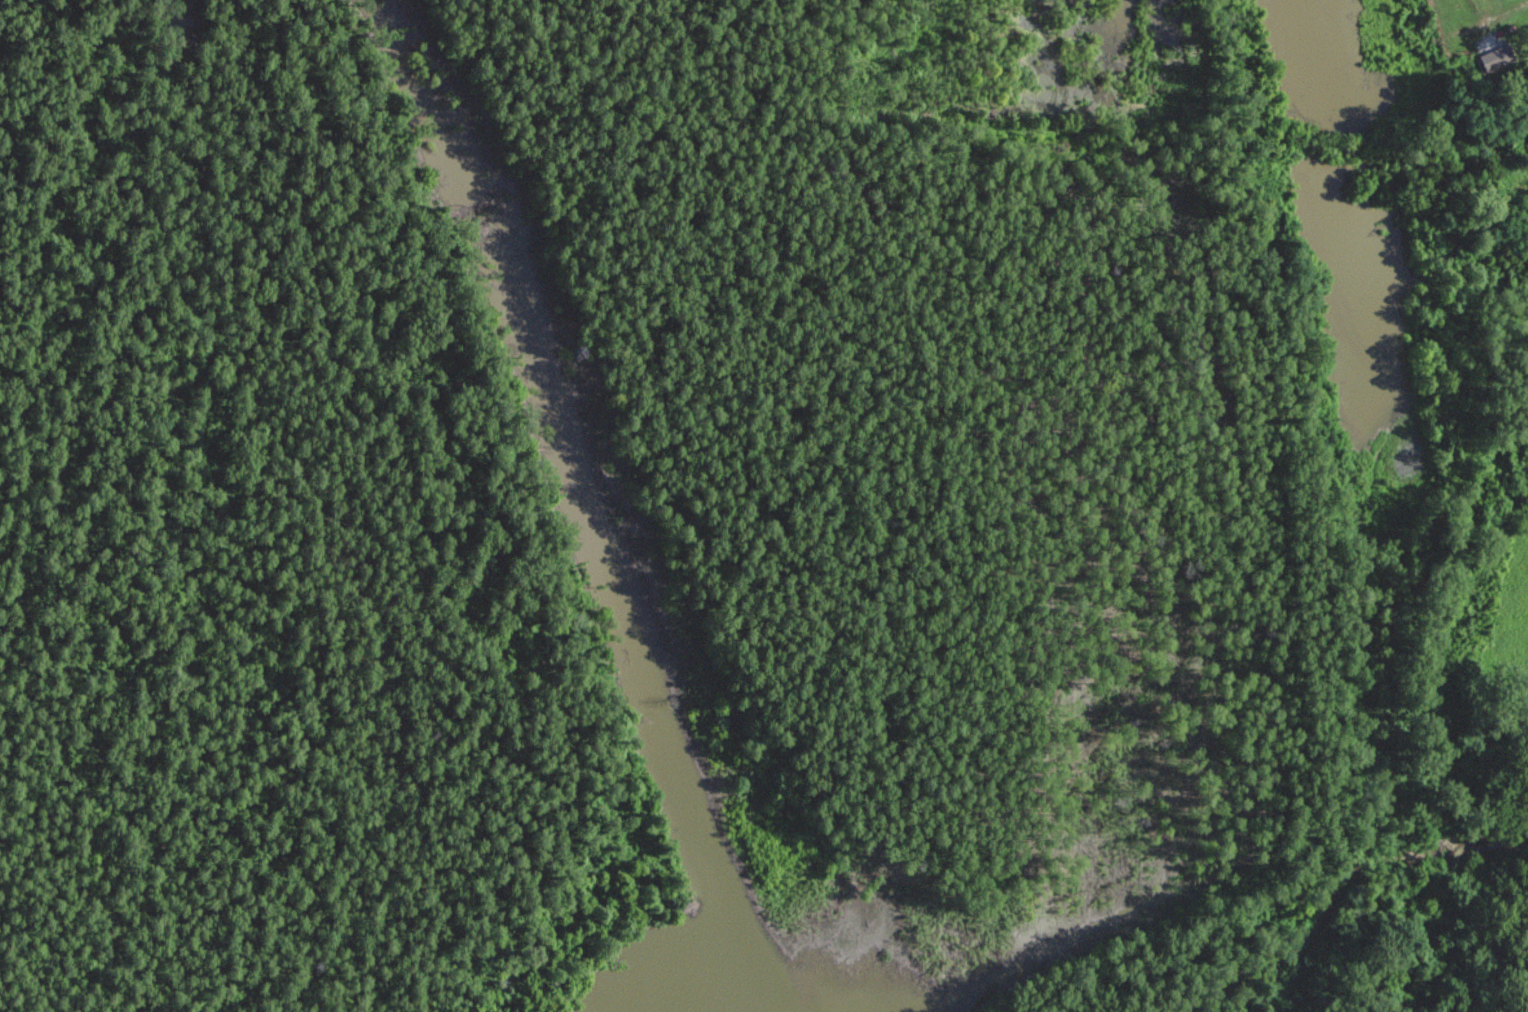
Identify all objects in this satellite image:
building: (1464, 5)
road: (1499, 14)
building: (1499, 57)

